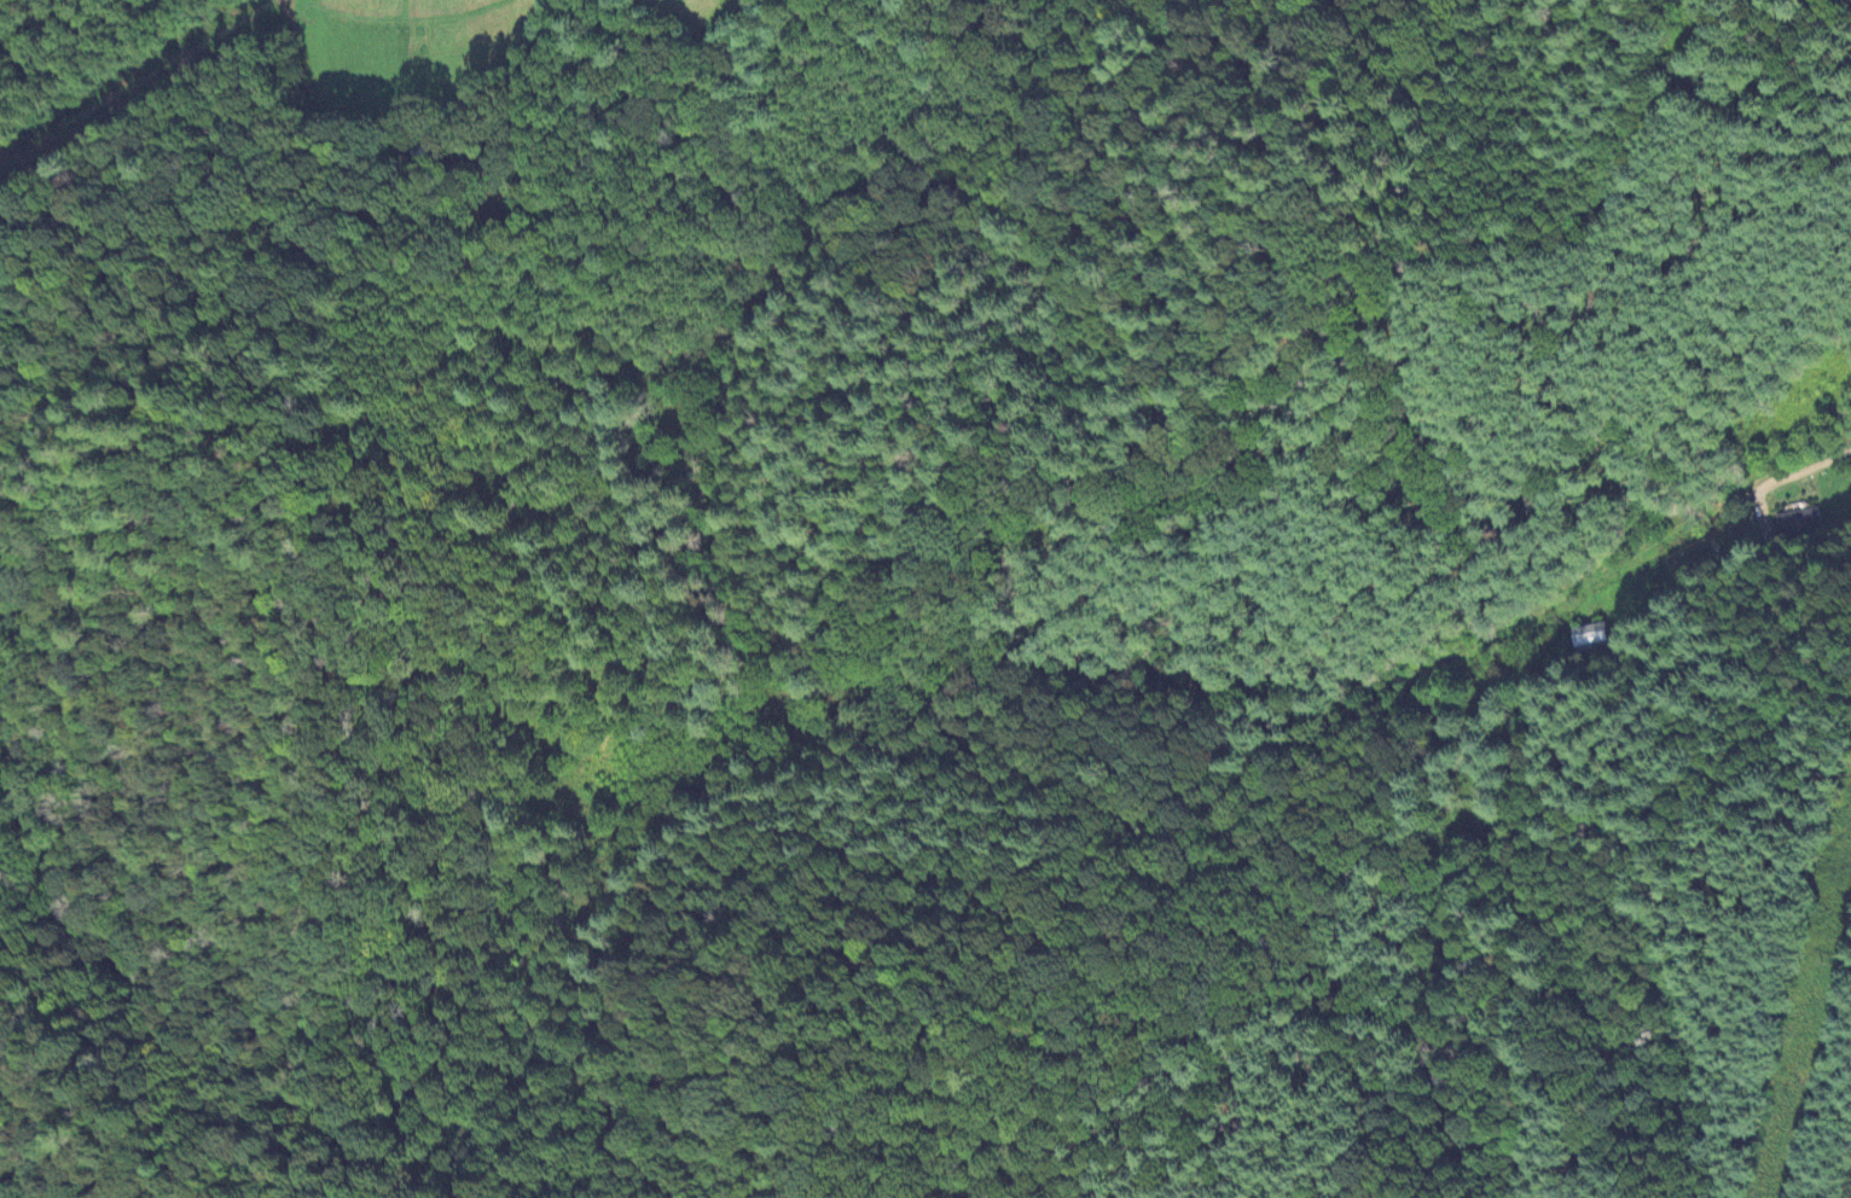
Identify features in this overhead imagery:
road: (1670, 539)
building: (1591, 639)

